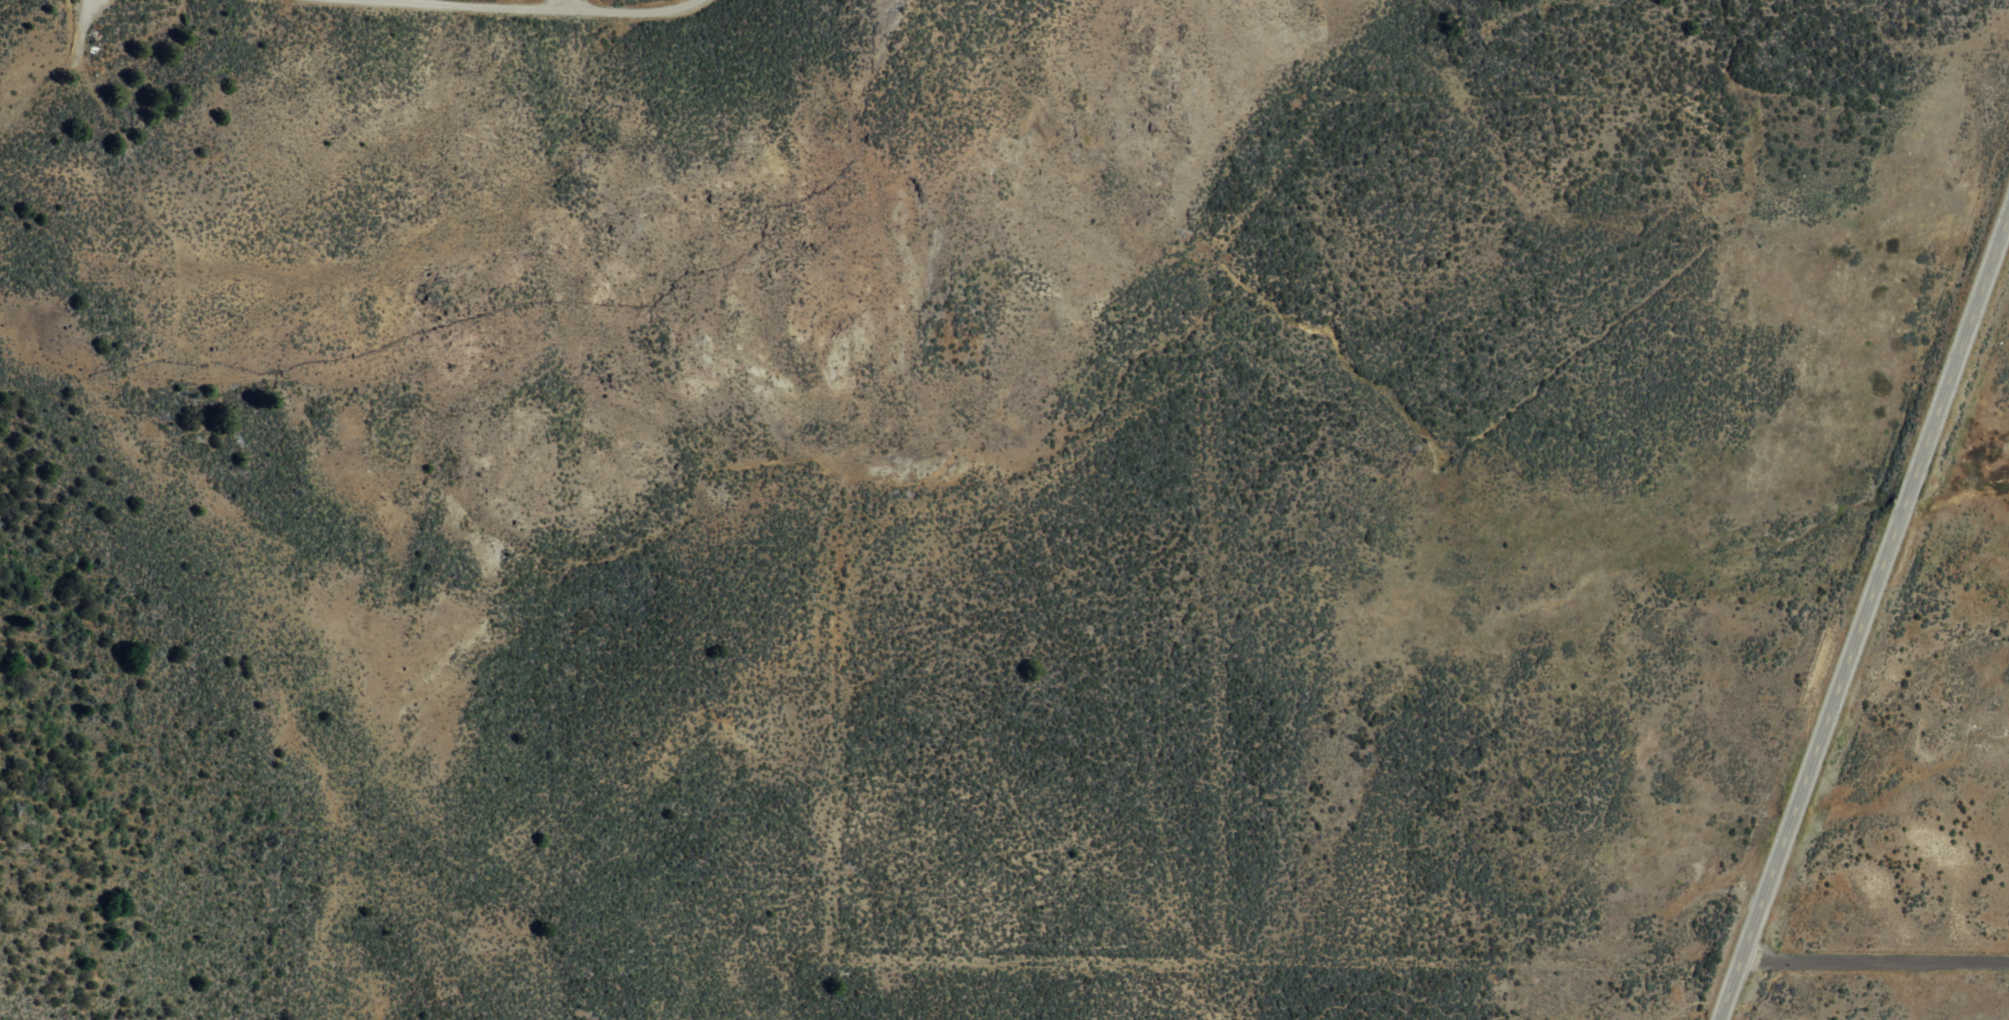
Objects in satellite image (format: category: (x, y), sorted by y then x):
crop: (114, 55)
road: (1868, 624)
crop: (1792, 670)
road: (1863, 962)

